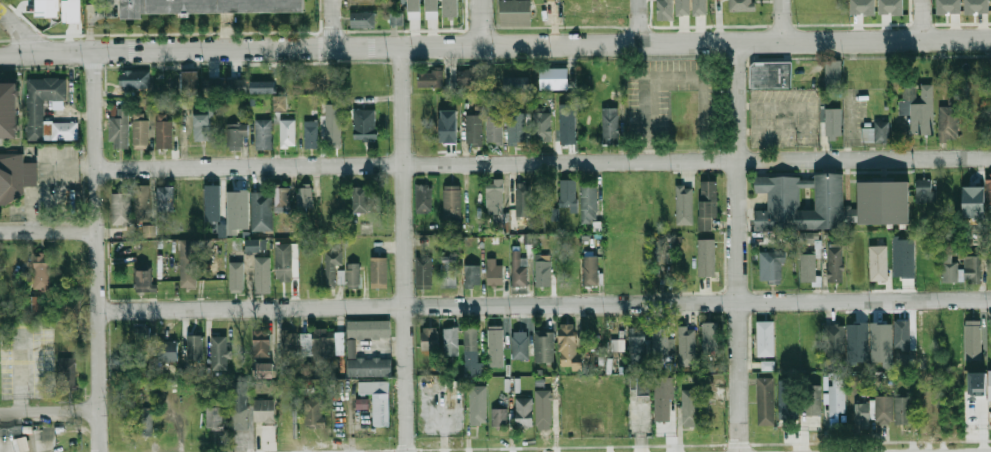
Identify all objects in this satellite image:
building: (365, 4)
building: (742, 5)
building: (208, 6)
building: (977, 6)
building: (683, 7)
building: (700, 7)
building: (862, 7)
building: (892, 7)
building: (949, 7)
building: (47, 8)
building: (450, 8)
parking lot: (102, 9)
building: (414, 9)
building: (71, 10)
building: (432, 10)
building: (666, 10)
building: (516, 13)
road: (926, 18)
building: (362, 19)
road: (783, 19)
road: (639, 20)
road: (481, 21)
road: (329, 22)
road: (90, 23)
road: (21, 33)
road: (516, 43)
road: (21, 52)
building: (832, 72)
building: (770, 74)
building: (431, 78)
building: (469, 78)
building: (554, 78)
building: (135, 80)
building: (190, 84)
building: (517, 85)
building: (212, 87)
building: (238, 87)
building: (263, 87)
building: (253, 103)
building: (280, 103)
building: (42, 104)
building: (184, 105)
building: (917, 107)
building: (8, 111)
building: (833, 123)
building: (948, 123)
building: (365, 124)
building: (448, 125)
building: (567, 125)
building: (202, 126)
building: (609, 126)
building: (542, 127)
building: (119, 129)
building: (474, 129)
building: (494, 129)
building: (49, 130)
building: (140, 130)
building: (333, 130)
building: (66, 131)
building: (163, 131)
building: (875, 132)
building: (263, 133)
building: (287, 133)
building: (516, 133)
building: (310, 134)
building: (237, 135)
road: (543, 164)
building: (15, 178)
building: (923, 190)
building: (971, 192)
building: (988, 192)
building: (568, 194)
building: (281, 197)
building: (304, 197)
building: (423, 197)
building: (165, 198)
building: (360, 199)
building: (524, 200)
building: (452, 201)
building: (827, 202)
building: (142, 203)
building: (495, 204)
building: (588, 204)
building: (214, 205)
building: (707, 205)
building: (685, 206)
building: (121, 208)
building: (237, 210)
building: (261, 211)
building: (148, 229)
road: (47, 235)
building: (807, 237)
building: (256, 245)
road: (739, 246)
road: (404, 248)
road: (96, 251)
building: (902, 257)
building: (191, 259)
building: (707, 259)
building: (286, 261)
building: (834, 262)
building: (877, 262)
building: (770, 264)
building: (807, 267)
building: (590, 268)
building: (334, 269)
building: (448, 269)
building: (518, 269)
building: (961, 269)
building: (41, 272)
building: (379, 272)
building: (424, 272)
building: (493, 272)
building: (543, 272)
building: (262, 273)
building: (353, 274)
building: (472, 275)
building: (142, 280)
building: (235, 281)
building: (32, 305)
road: (544, 305)
building: (67, 309)
building: (368, 328)
building: (990, 333)
building: (901, 334)
building: (683, 336)
building: (709, 336)
building: (144, 338)
building: (430, 338)
building: (471, 339)
building: (766, 339)
building: (833, 340)
building: (450, 341)
building: (661, 341)
building: (857, 342)
building: (881, 343)
building: (261, 344)
building: (327, 344)
building: (617, 344)
building: (972, 344)
building: (195, 346)
building: (544, 346)
building: (568, 346)
building: (495, 347)
building: (520, 347)
building: (169, 348)
building: (636, 348)
building: (220, 352)
building: (289, 353)
building: (769, 365)
building: (369, 366)
building: (304, 369)
building: (263, 370)
building: (67, 372)
building: (121, 372)
building: (977, 382)
building: (640, 385)
building: (989, 385)
building: (834, 396)
building: (662, 397)
building: (787, 398)
building: (812, 399)
building: (765, 400)
building: (377, 401)
building: (239, 405)
building: (477, 405)
building: (689, 407)
building: (543, 408)
building: (264, 410)
building: (873, 410)
building: (902, 410)
road: (50, 411)
building: (524, 412)
building: (314, 413)
building: (214, 414)
building: (499, 417)
building: (144, 422)
building: (21, 444)

